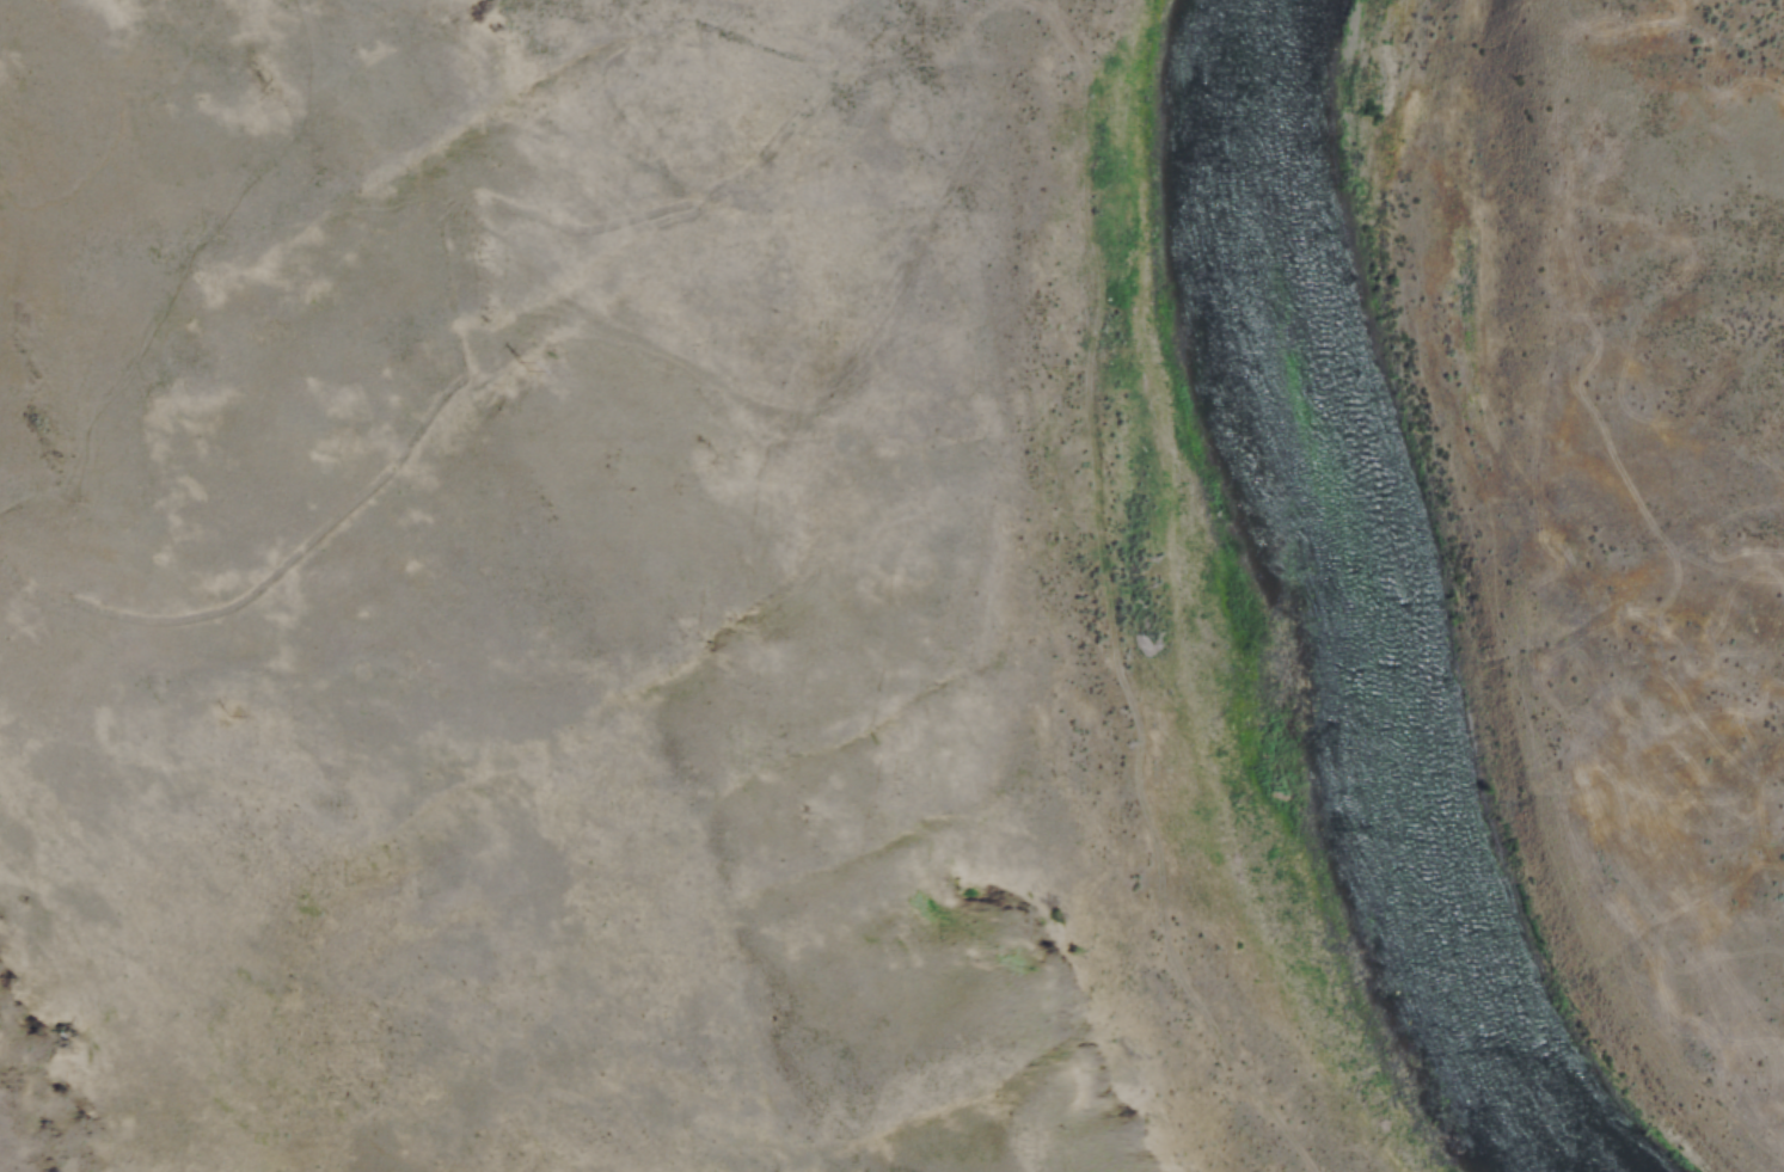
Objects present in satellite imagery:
river: (1366, 607)

